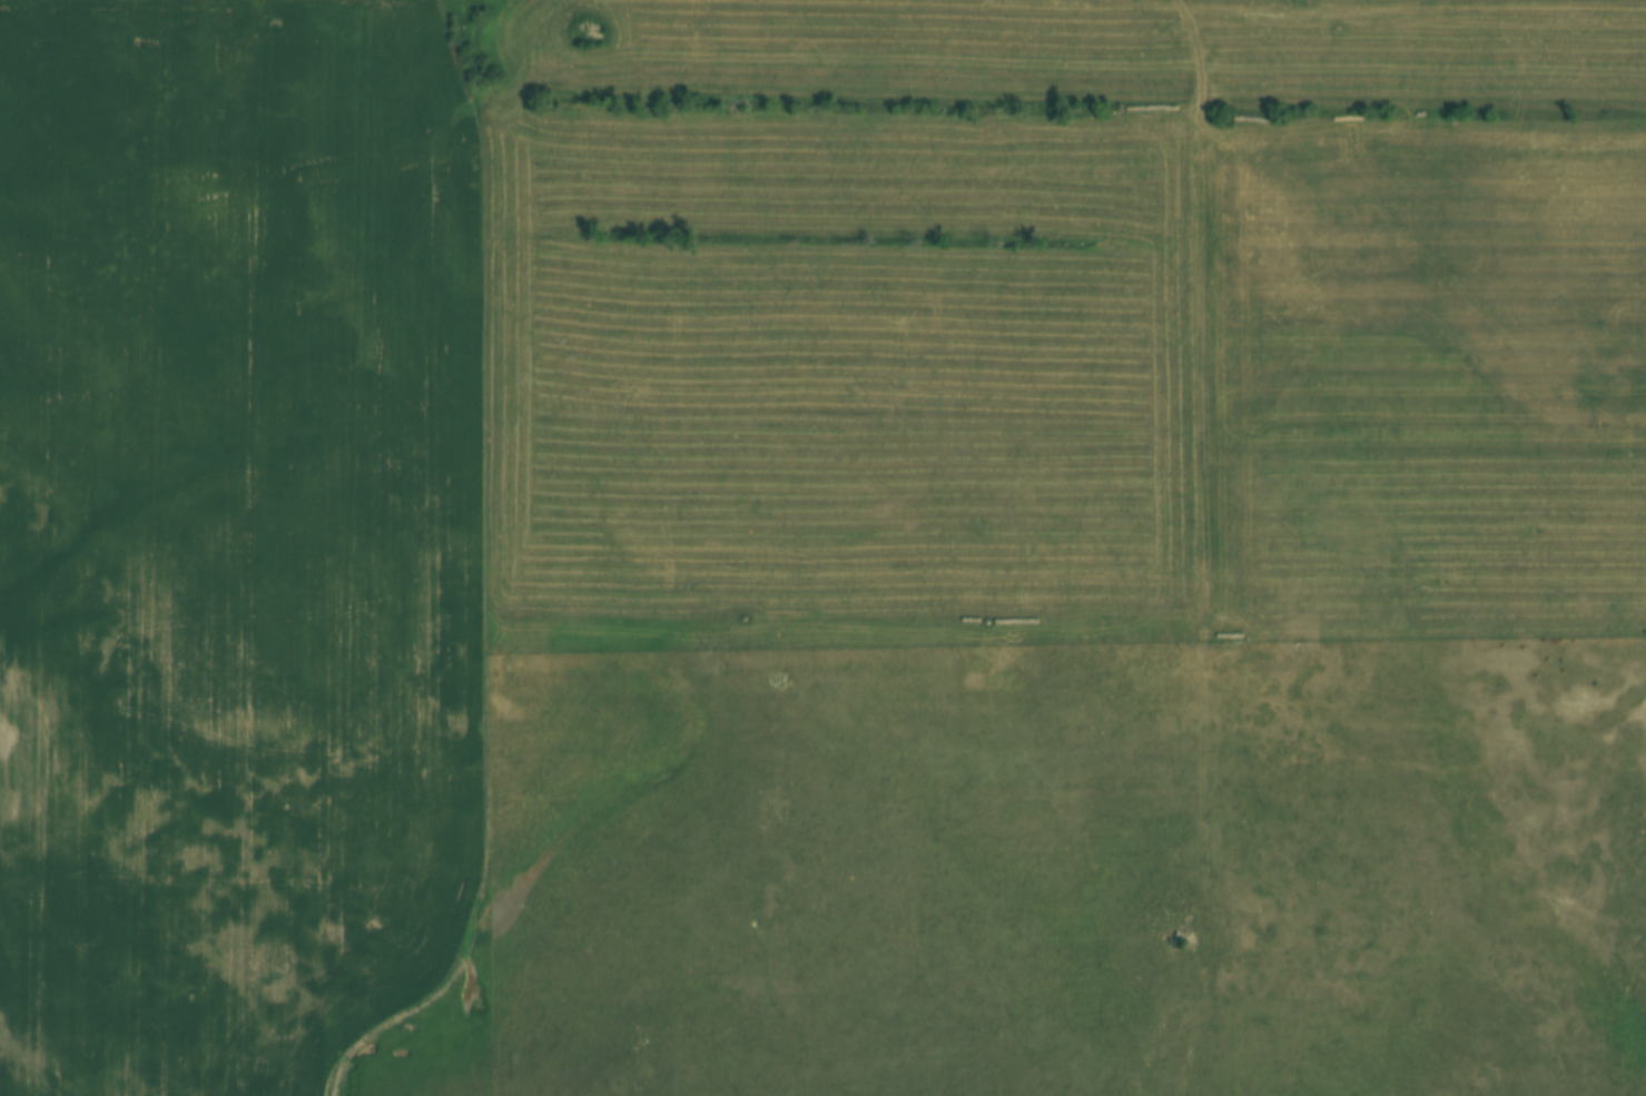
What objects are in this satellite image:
road: (1190, 24)

